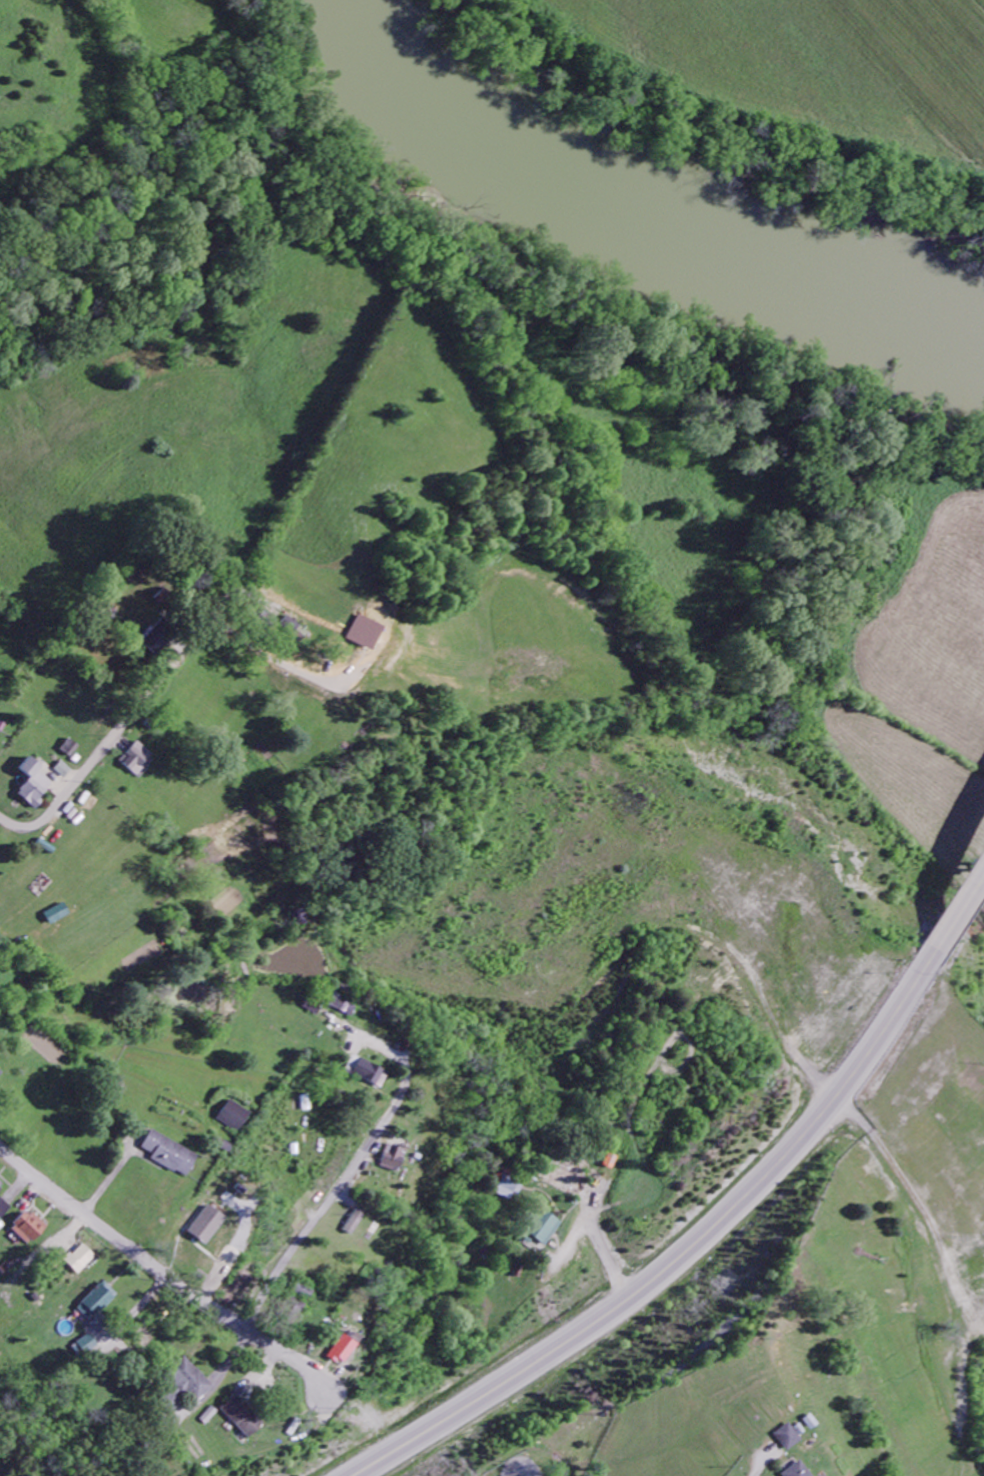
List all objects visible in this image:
river: (643, 210)
building: (154, 642)
road: (121, 725)
building: (69, 749)
building: (134, 759)
building: (61, 771)
building: (33, 785)
road: (963, 895)
building: (57, 915)
building: (342, 1008)
building: (365, 1073)
building: (0, 1074)
building: (234, 1117)
building: (170, 1155)
building: (393, 1159)
building: (563, 1181)
building: (510, 1187)
road: (330, 1199)
building: (356, 1223)
building: (209, 1227)
building: (28, 1229)
building: (546, 1231)
road: (698, 1249)
road: (610, 1254)
building: (80, 1261)
road: (169, 1270)
building: (97, 1303)
building: (99, 1325)
building: (85, 1347)
road: (622, 1379)
building: (190, 1382)
building: (243, 1418)
building: (811, 1424)
building: (788, 1439)
building: (797, 1471)
road: (524, 1473)

